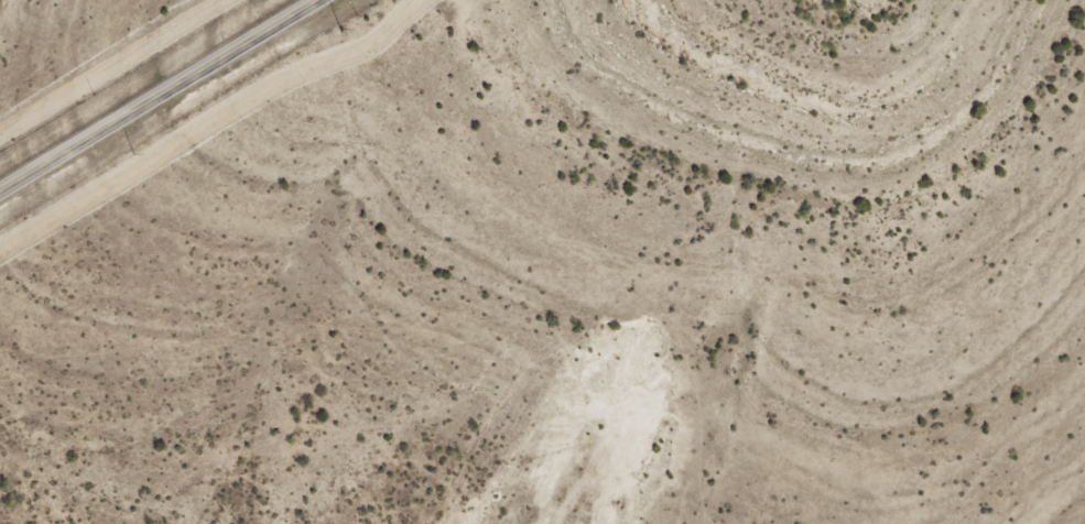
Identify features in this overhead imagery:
power tower: (338, 32)
road: (159, 97)
power tower: (132, 157)

